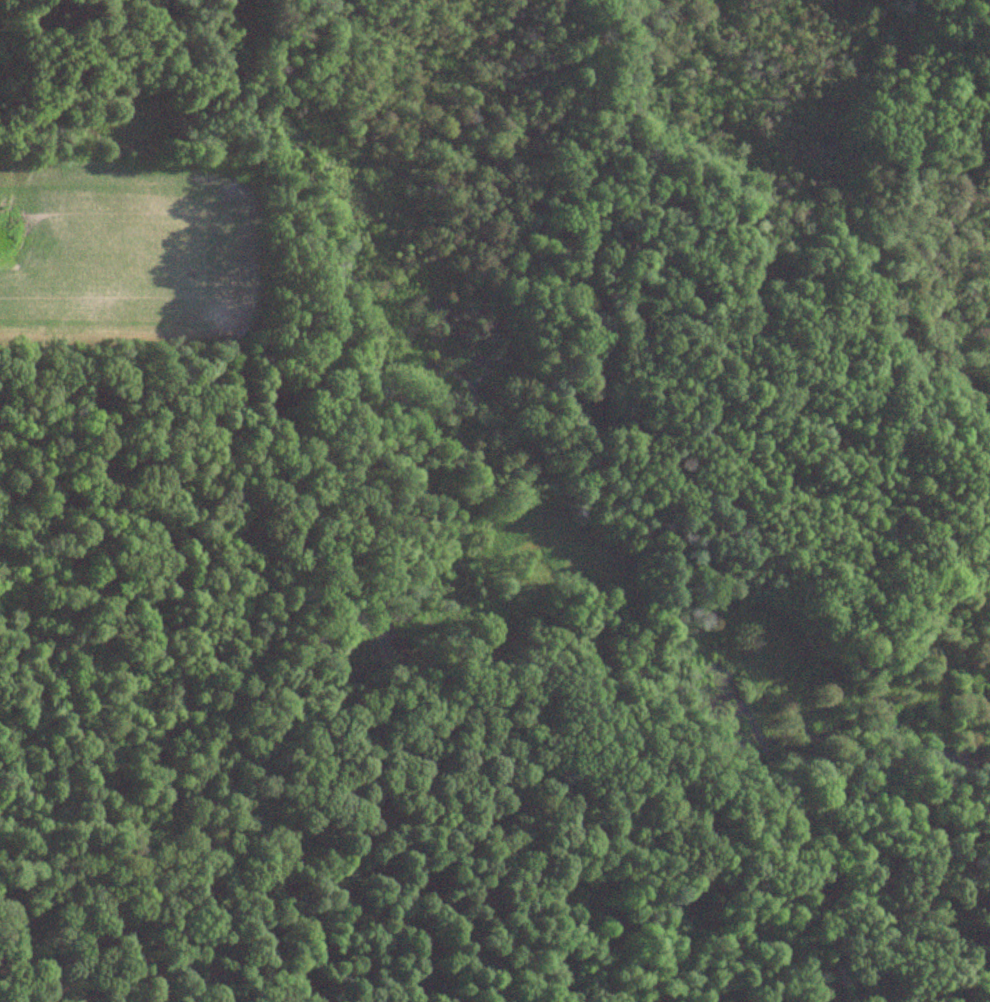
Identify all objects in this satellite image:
crop: (123, 265)

